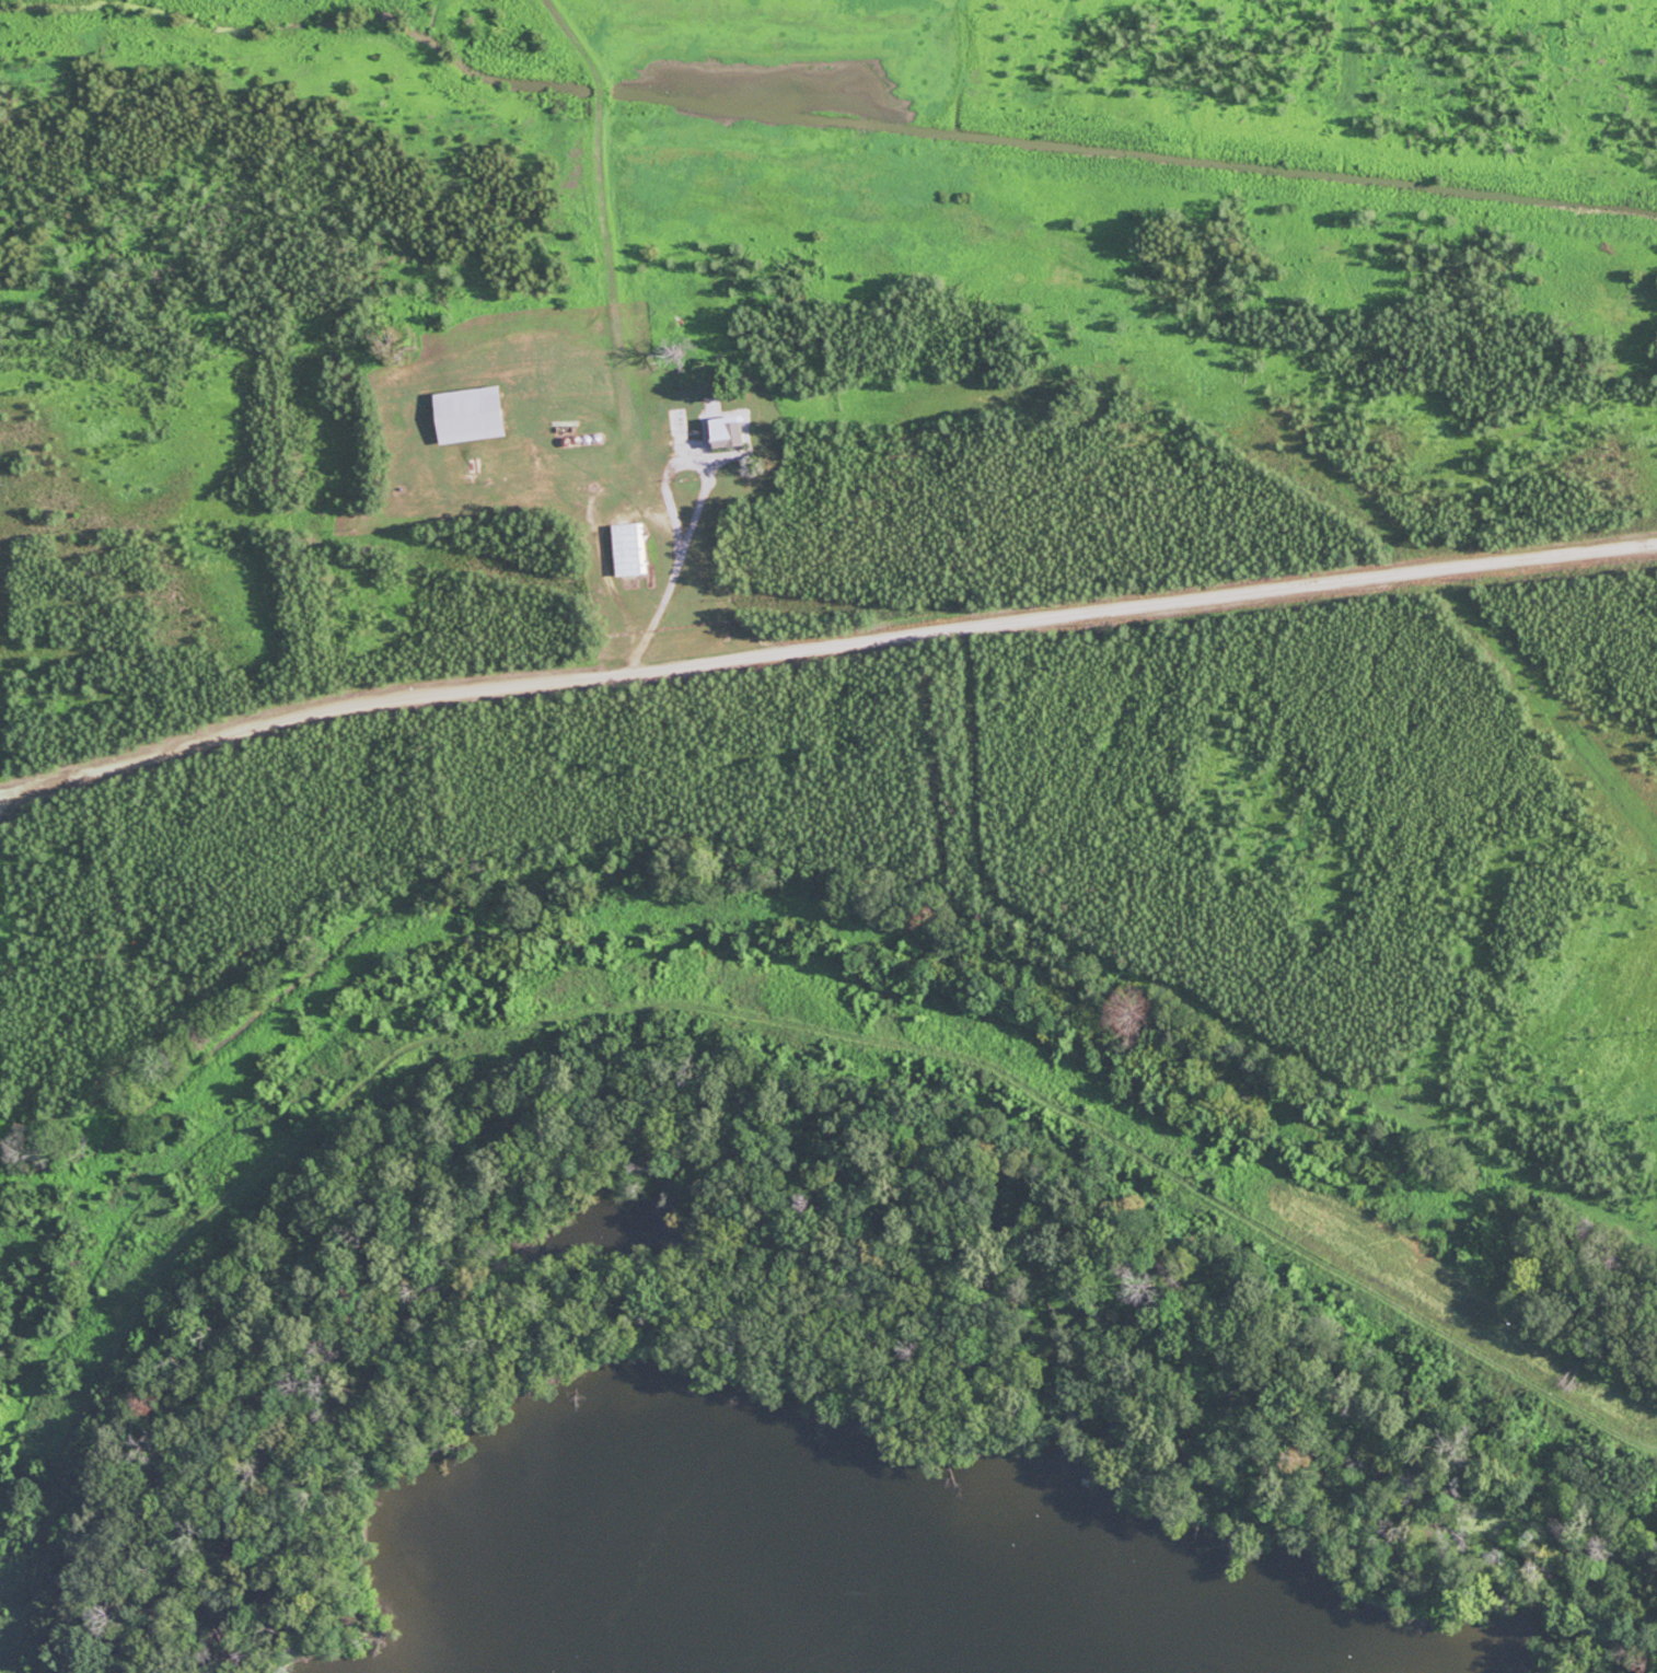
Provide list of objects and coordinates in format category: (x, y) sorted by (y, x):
road: (616, 341)
building: (478, 415)
building: (739, 431)
building: (629, 550)
road: (823, 644)
road: (5, 800)

